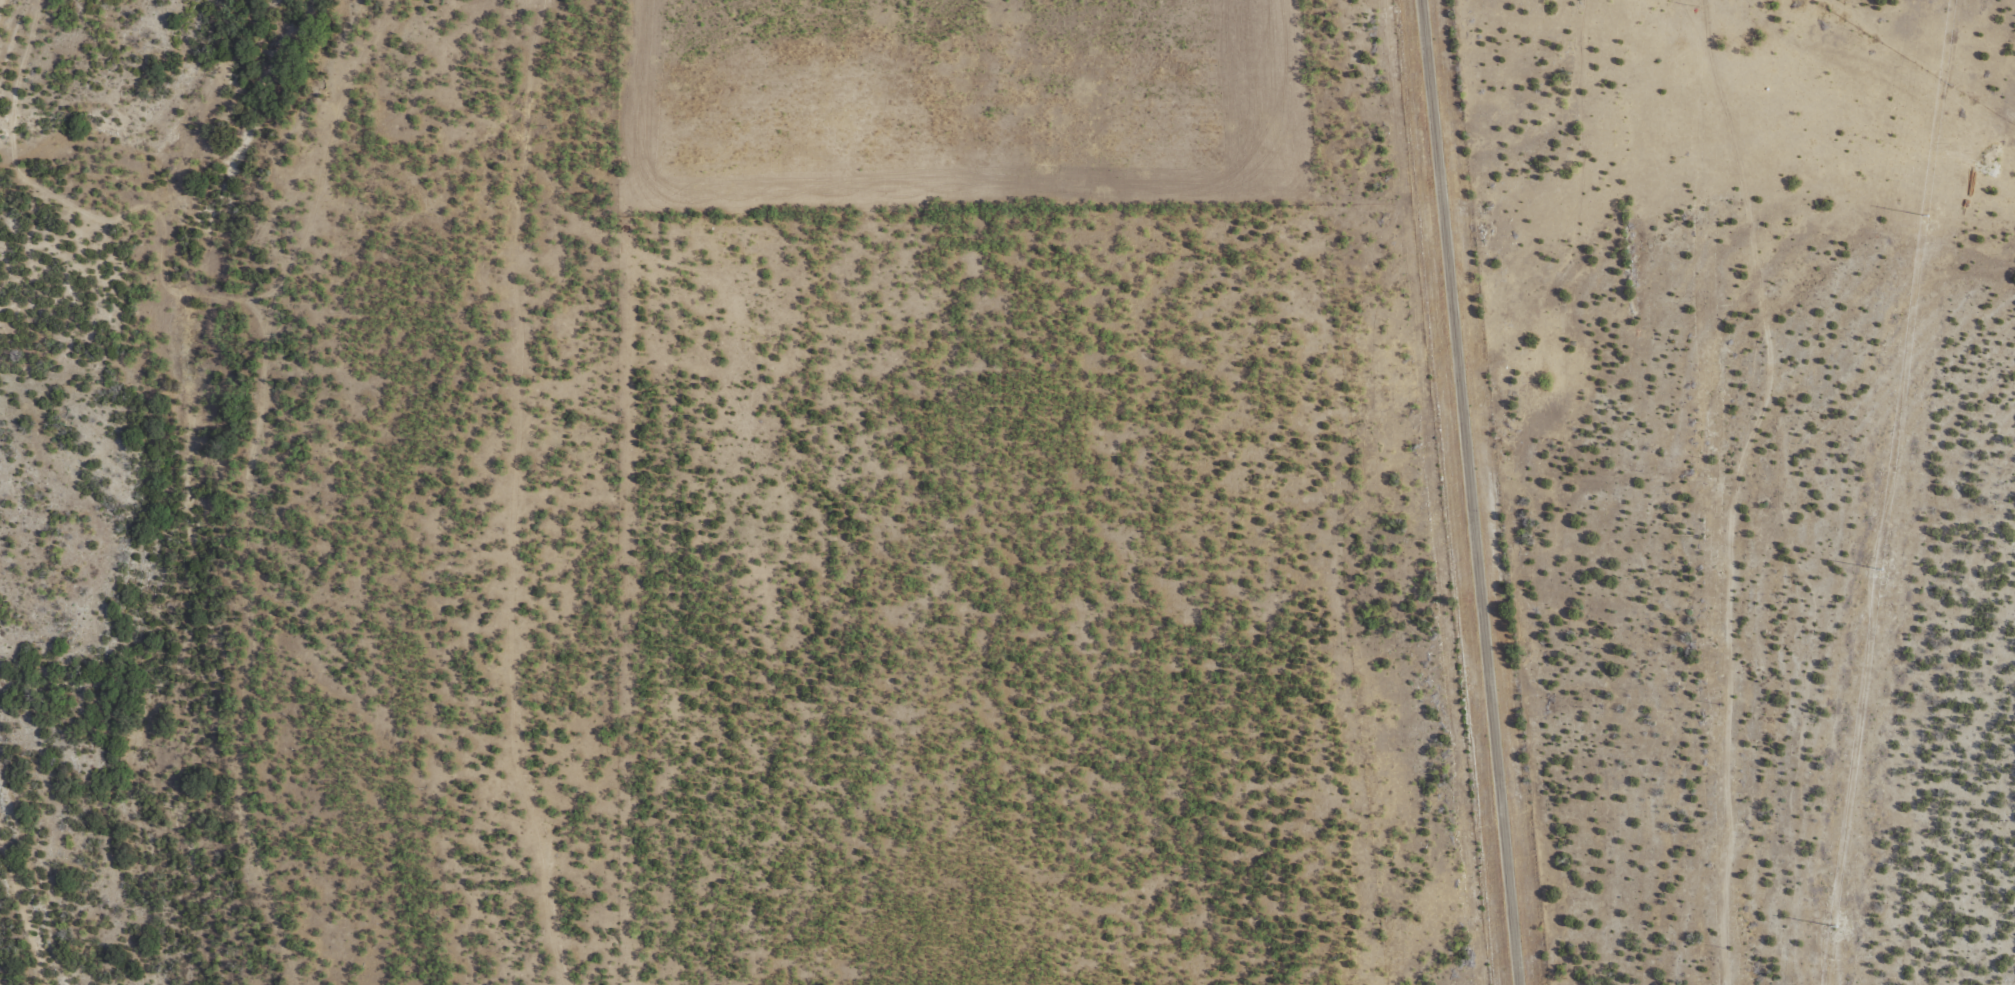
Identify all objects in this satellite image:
railway: (17, 58)
power tower: (1925, 219)
river: (190, 492)
road: (1913, 492)
road: (1472, 493)
power tower: (1880, 574)
railway: (30, 889)
power tower: (1835, 931)

